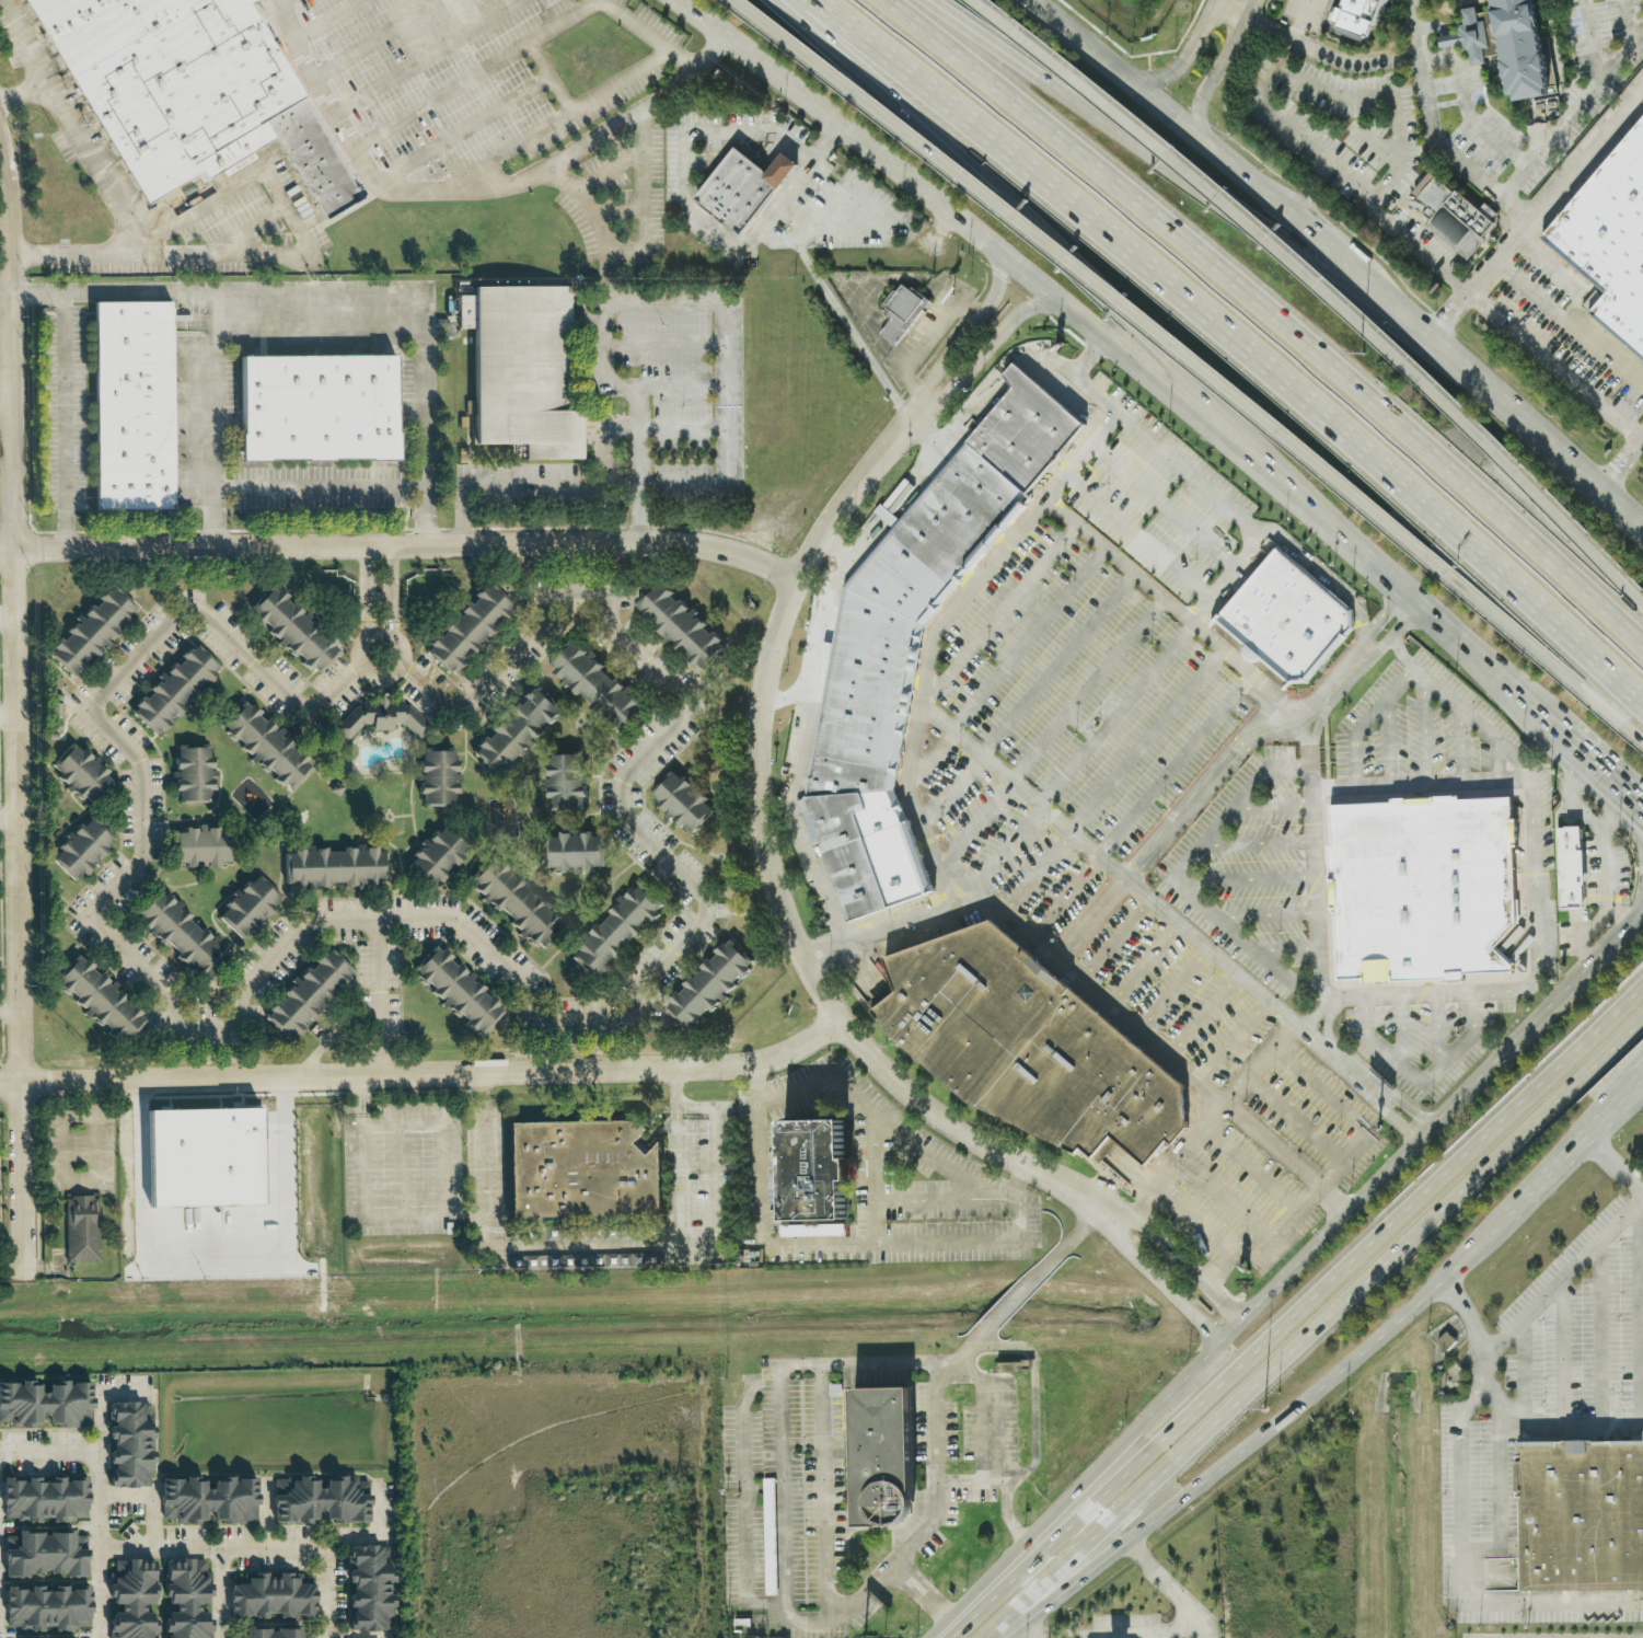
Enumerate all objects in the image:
road: (279, 3)
building: (1349, 15)
road: (326, 20)
road: (650, 35)
road: (378, 38)
building: (1517, 45)
road: (1314, 47)
road: (426, 56)
road: (1185, 56)
road: (1219, 67)
road: (1114, 69)
road: (477, 73)
road: (552, 76)
road: (320, 85)
building: (183, 91)
road: (24, 92)
road: (1385, 97)
road: (1466, 108)
road: (1572, 114)
road: (556, 119)
road: (837, 123)
road: (466, 127)
road: (74, 130)
road: (1431, 132)
road: (565, 157)
road: (628, 159)
road: (1326, 159)
road: (1183, 169)
building: (785, 171)
road: (1245, 176)
road: (1108, 177)
road: (244, 184)
building: (740, 191)
road: (1057, 195)
road: (695, 211)
road: (1535, 215)
building: (1453, 217)
road: (645, 219)
road: (5, 223)
building: (1609, 239)
road: (1324, 245)
road: (155, 259)
road: (1075, 267)
road: (1321, 287)
road: (875, 288)
road: (1396, 307)
building: (901, 311)
road: (212, 322)
road: (847, 325)
road: (415, 327)
road: (605, 331)
road: (662, 345)
road: (1196, 359)
road: (1555, 365)
building: (528, 370)
road: (720, 378)
road: (681, 389)
road: (1486, 392)
road: (1172, 396)
building: (137, 403)
building: (323, 408)
road: (7, 412)
road: (66, 422)
road: (681, 428)
road: (1621, 474)
road: (552, 486)
road: (320, 487)
road: (1210, 492)
road: (1592, 494)
road: (1164, 505)
road: (1489, 506)
road: (1138, 535)
road: (402, 545)
road: (1476, 547)
road: (1226, 576)
road: (391, 582)
road: (367, 584)
road: (380, 598)
road: (1172, 605)
road: (18, 607)
road: (1003, 610)
road: (9, 614)
building: (1287, 615)
road: (1382, 615)
road: (1404, 621)
building: (291, 628)
building: (471, 628)
road: (392, 630)
building: (679, 630)
road: (368, 631)
road: (933, 632)
building: (96, 633)
building: (913, 638)
road: (1028, 638)
road: (824, 641)
road: (1455, 643)
road: (1364, 647)
road: (1380, 647)
road: (1056, 664)
road: (369, 673)
building: (174, 684)
building: (599, 688)
road: (1086, 688)
road: (1331, 689)
road: (1458, 708)
road: (1115, 713)
road: (1098, 714)
building: (382, 717)
road: (9, 718)
road: (1365, 720)
building: (517, 729)
road: (1423, 731)
road: (1145, 739)
road: (1388, 741)
building: (266, 743)
road: (1460, 747)
road: (935, 754)
road: (1497, 761)
road: (1173, 764)
building: (82, 770)
building: (194, 772)
road: (1596, 773)
road: (760, 776)
building: (438, 778)
building: (565, 780)
road: (1419, 783)
road: (952, 791)
building: (684, 800)
road: (1271, 806)
road: (1638, 810)
road: (1611, 814)
road: (1638, 815)
road: (10, 817)
road: (624, 819)
road: (977, 821)
road: (1638, 823)
road: (1168, 828)
road: (142, 833)
road: (1256, 843)
building: (82, 845)
building: (200, 845)
road: (1007, 846)
building: (574, 851)
building: (435, 858)
road: (1609, 858)
building: (1570, 866)
building: (334, 867)
road: (1037, 872)
road: (1177, 875)
road: (960, 876)
road: (1315, 876)
road: (1248, 880)
building: (1424, 888)
road: (1065, 897)
road: (1150, 898)
building: (516, 901)
building: (246, 907)
road: (1640, 912)
road: (1266, 914)
road: (1640, 919)
building: (180, 930)
building: (617, 930)
road: (1115, 938)
road: (1286, 949)
road: (1144, 964)
road: (1593, 964)
building: (708, 981)
road: (1529, 983)
road: (379, 984)
building: (458, 988)
road: (1173, 989)
building: (308, 990)
road: (1095, 991)
building: (102, 1002)
road: (11, 1007)
road: (1203, 1015)
road: (1401, 1030)
road: (1437, 1030)
road: (1471, 1036)
road: (1369, 1038)
road: (1233, 1040)
building: (1028, 1045)
road: (380, 1062)
road: (424, 1074)
road: (1421, 1083)
road: (1379, 1095)
road: (683, 1096)
road: (1347, 1112)
road: (1444, 1114)
road: (879, 1119)
road: (1213, 1120)
road: (1294, 1121)
road: (1572, 1147)
road: (1613, 1164)
road: (403, 1168)
road: (1253, 1168)
building: (580, 1170)
building: (810, 1172)
road: (724, 1178)
road: (875, 1179)
road: (682, 1180)
road: (81, 1181)
road: (25, 1193)
road: (938, 1196)
road: (1227, 1199)
road: (1020, 1210)
road: (421, 1215)
road: (1192, 1224)
building: (80, 1230)
road: (509, 1241)
road: (1266, 1241)
road: (1067, 1243)
road: (778, 1245)
road: (210, 1246)
road: (1175, 1257)
road: (1292, 1267)
road: (1153, 1278)
road: (1015, 1299)
road: (1640, 1306)
road: (1297, 1311)
road: (1329, 1314)
road: (1601, 1333)
building: (1445, 1341)
road: (1496, 1349)
road: (1562, 1351)
road: (1192, 1366)
road: (780, 1368)
road: (1525, 1369)
road: (988, 1379)
building: (45, 1405)
road: (1034, 1428)
road: (1269, 1428)
building: (128, 1446)
road: (51, 1451)
building: (879, 1458)
road: (153, 1496)
road: (1500, 1497)
building: (43, 1499)
building: (319, 1500)
building: (207, 1501)
building: (1580, 1513)
road: (101, 1514)
road: (1035, 1526)
road: (1462, 1526)
road: (369, 1537)
road: (210, 1548)
building: (43, 1555)
road: (1160, 1581)
building: (368, 1590)
road: (324, 1592)
road: (919, 1592)
road: (219, 1593)
road: (863, 1593)
building: (269, 1597)
building: (130, 1599)
building: (185, 1599)
building: (46, 1608)
road: (1029, 1625)
road: (1004, 1626)
road: (1201, 1628)
road: (1181, 1629)
building: (268, 1634)

